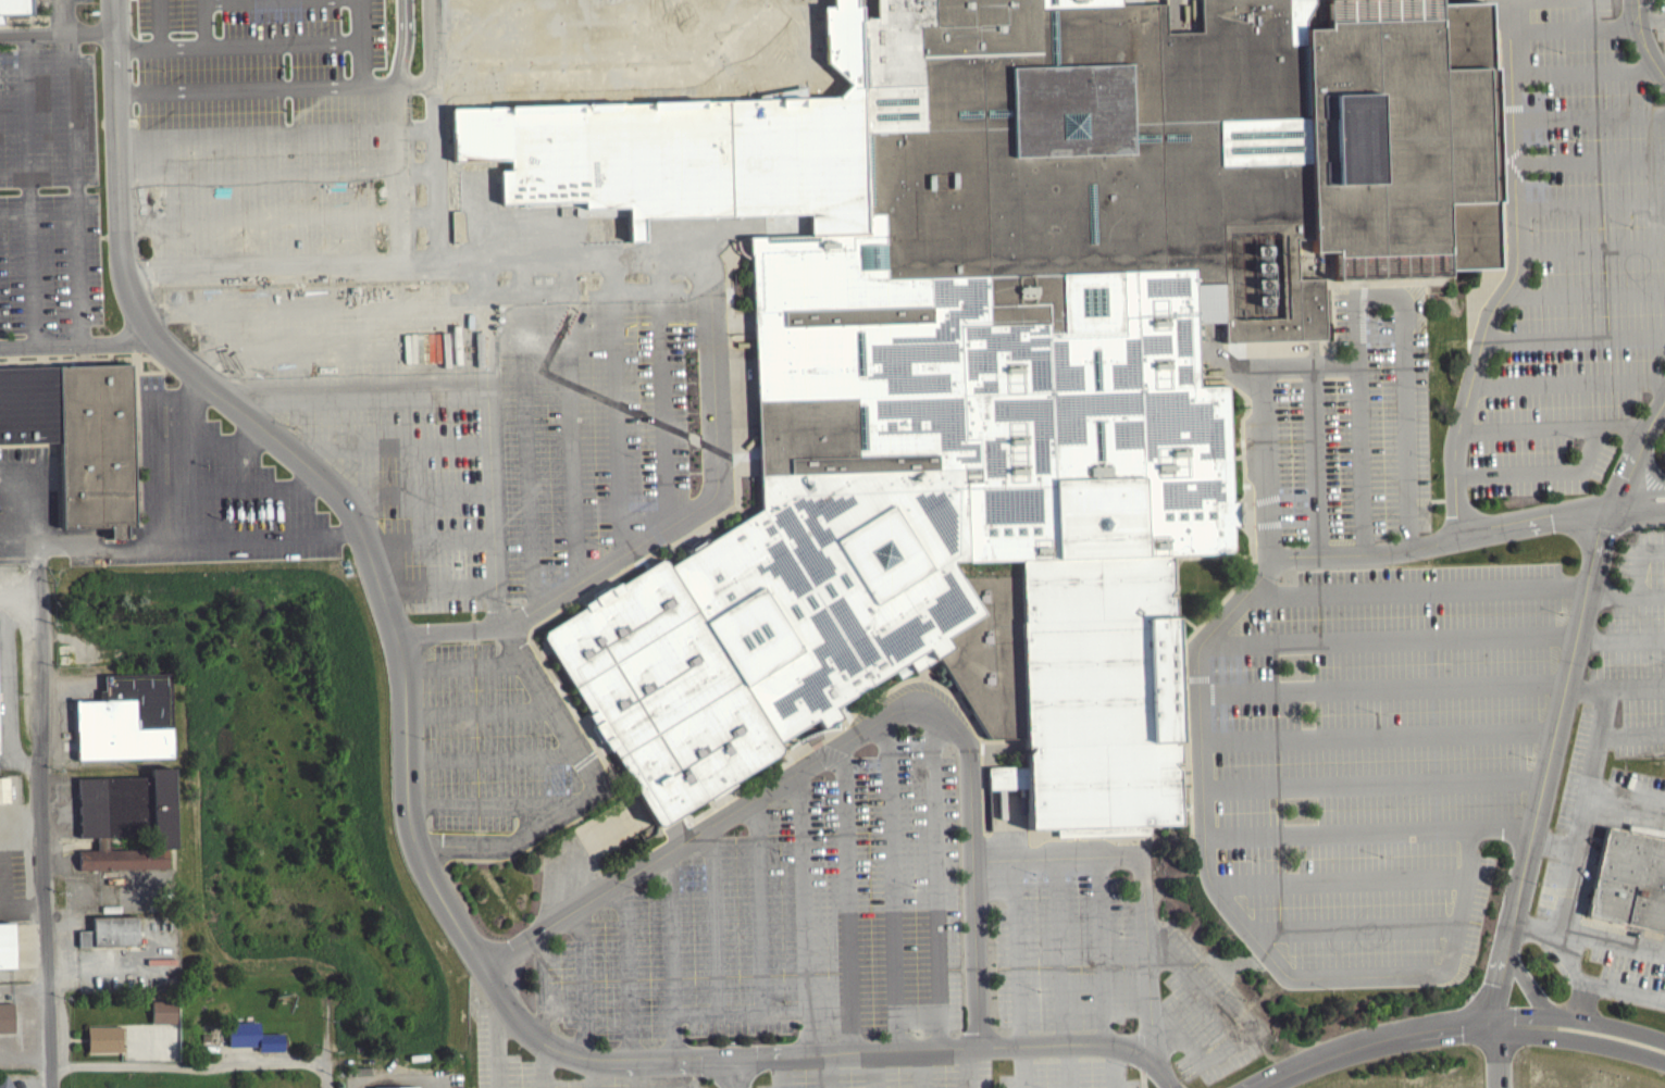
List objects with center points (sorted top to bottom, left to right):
road: (215, 0)
building: (13, 7)
parking lot: (1661, 18)
road: (202, 23)
road: (159, 24)
building: (982, 27)
road: (1588, 27)
road: (55, 30)
road: (1644, 40)
road: (405, 41)
road: (362, 42)
road: (237, 43)
road: (1589, 67)
road: (257, 90)
road: (1590, 113)
road: (398, 114)
parking lot: (258, 125)
road: (257, 134)
building: (1402, 137)
building: (692, 149)
road: (1590, 158)
road: (72, 171)
parking lot: (49, 175)
road: (258, 176)
road: (29, 188)
road: (1592, 204)
road: (258, 221)
road: (1593, 247)
parking lot: (1571, 255)
road: (709, 261)
road: (1511, 287)
road: (1586, 290)
road: (1380, 297)
road: (313, 308)
building: (1009, 333)
road: (1574, 337)
road: (77, 343)
road: (332, 353)
road: (1312, 364)
road: (1567, 380)
road: (664, 390)
road: (359, 398)
parking lot: (365, 403)
road: (618, 404)
parking lot: (592, 411)
road: (571, 421)
road: (1653, 424)
parking lot: (1349, 427)
road: (1554, 429)
building: (75, 435)
road: (526, 435)
road: (208, 441)
road: (385, 447)
road: (1317, 459)
road: (1650, 464)
road: (1542, 473)
parking lot: (213, 488)
road: (235, 488)
road: (413, 492)
road: (1638, 495)
road: (1639, 511)
road: (151, 538)
road: (426, 540)
road: (1440, 540)
road: (59, 541)
road: (1635, 576)
road: (434, 587)
road: (1417, 587)
road: (377, 588)
road: (1610, 595)
road: (1620, 636)
road: (499, 637)
road: (1389, 638)
road: (459, 664)
road: (1637, 687)
building: (1078, 688)
road: (1381, 689)
building: (658, 691)
road: (476, 712)
building: (125, 724)
parking lot: (1613, 728)
road: (1632, 731)
road: (1376, 737)
parking lot: (481, 741)
parking lot: (1378, 755)
road: (490, 756)
road: (1546, 761)
road: (1371, 786)
road: (1588, 787)
building: (2, 795)
road: (1626, 797)
road: (480, 805)
road: (971, 821)
building: (125, 826)
road: (1335, 833)
road: (1552, 841)
road: (44, 847)
road: (664, 851)
road: (1204, 853)
road: (1141, 875)
road: (936, 878)
road: (1340, 880)
building: (1629, 880)
road: (891, 883)
road: (847, 896)
road: (759, 903)
road: (804, 910)
road: (713, 917)
parking lot: (786, 924)
road: (1533, 924)
road: (1354, 929)
building: (109, 937)
road: (1611, 941)
road: (1099, 948)
road: (1058, 950)
building: (5, 951)
road: (1016, 951)
road: (671, 952)
parking lot: (1110, 959)
parking lot: (1604, 960)
road: (1527, 981)
road: (1596, 981)
road: (626, 983)
road: (585, 995)
road: (1587, 1001)
road: (741, 1012)
building: (5, 1016)
building: (161, 1017)
road: (1233, 1027)
road: (1604, 1027)
road: (497, 1031)
road: (1396, 1034)
building: (252, 1042)
building: (102, 1043)
road: (1020, 1043)
road: (1604, 1043)
parking lot: (493, 1045)
road: (793, 1052)
road: (545, 1061)
road: (1067, 1065)
road: (189, 1066)
road: (968, 1066)
road: (1020, 1066)
road: (1113, 1066)
road: (918, 1067)
road: (874, 1068)
road: (828, 1070)
road: (781, 1071)
road: (326, 1073)
road: (684, 1073)
road: (736, 1073)
parking lot: (1067, 1073)
parking lot: (886, 1074)
road: (395, 1079)
building: (5, 1081)
building: (397, 1087)

